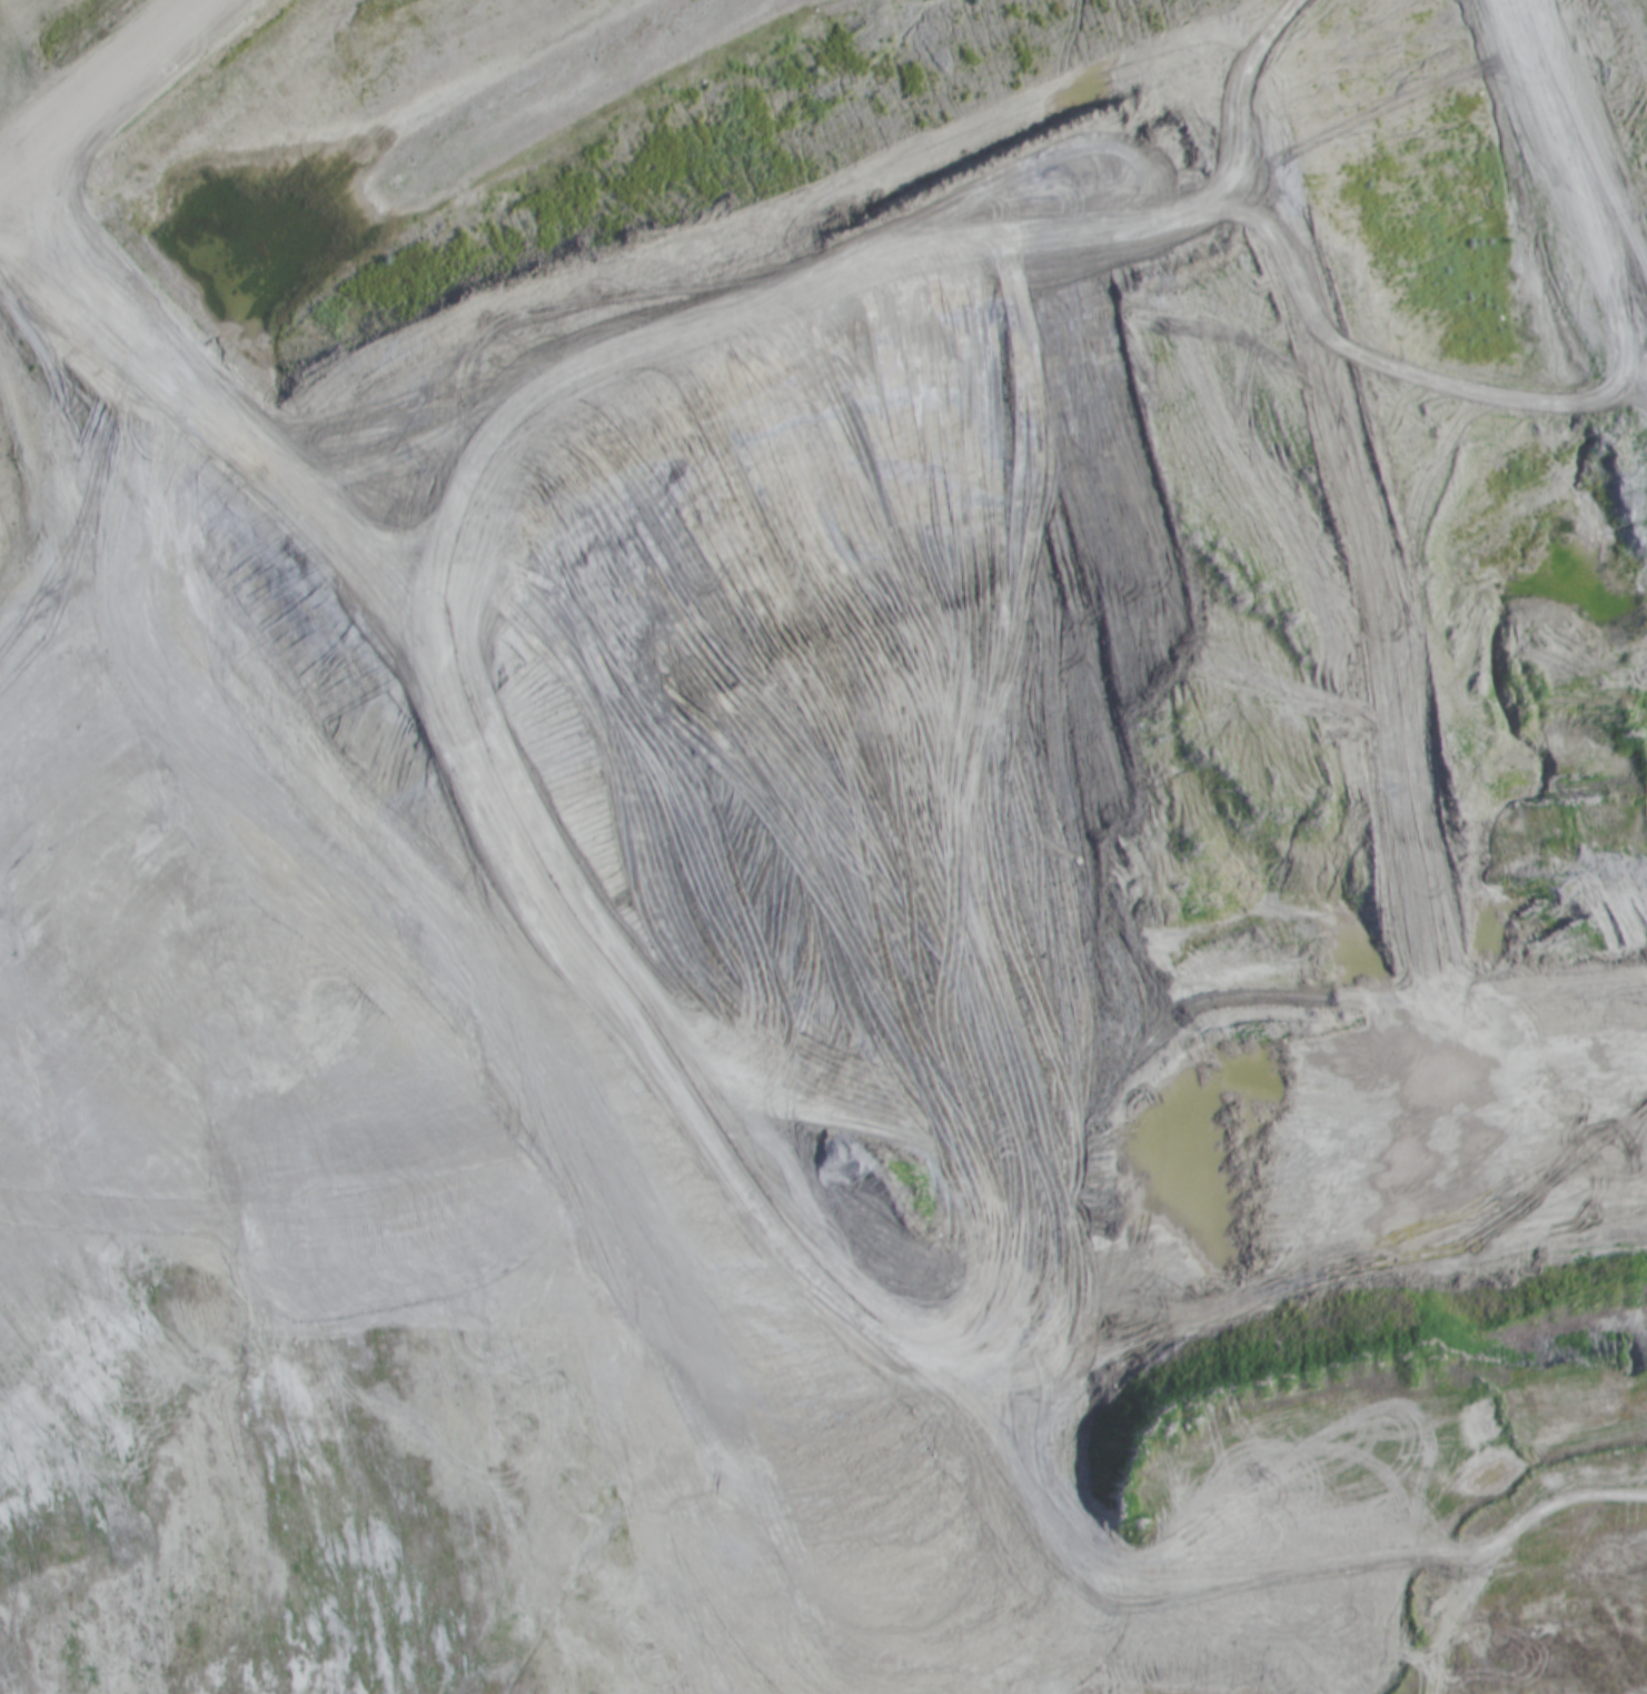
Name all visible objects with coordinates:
quarry: (757, 752)

